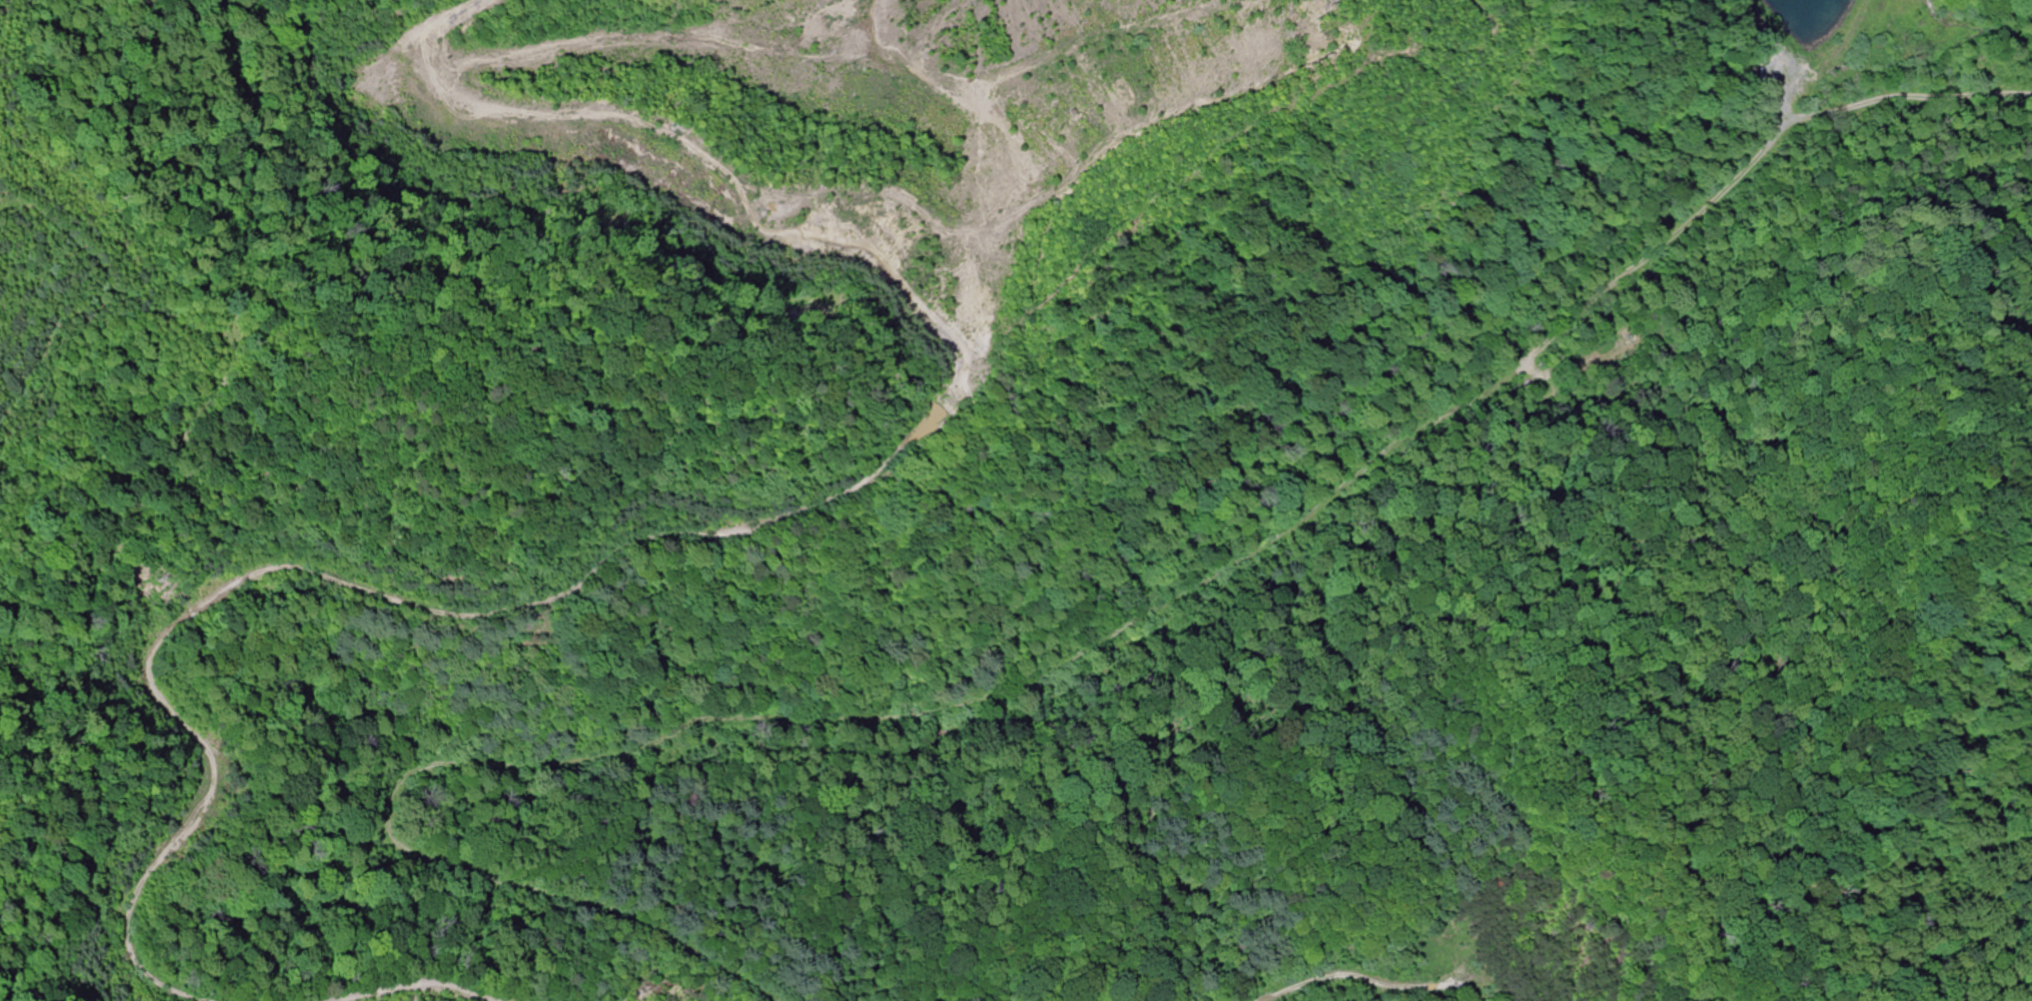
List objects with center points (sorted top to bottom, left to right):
road: (727, 530)
road: (1050, 669)
road: (357, 937)
road: (1360, 968)
road: (444, 988)
road: (1683, 997)

